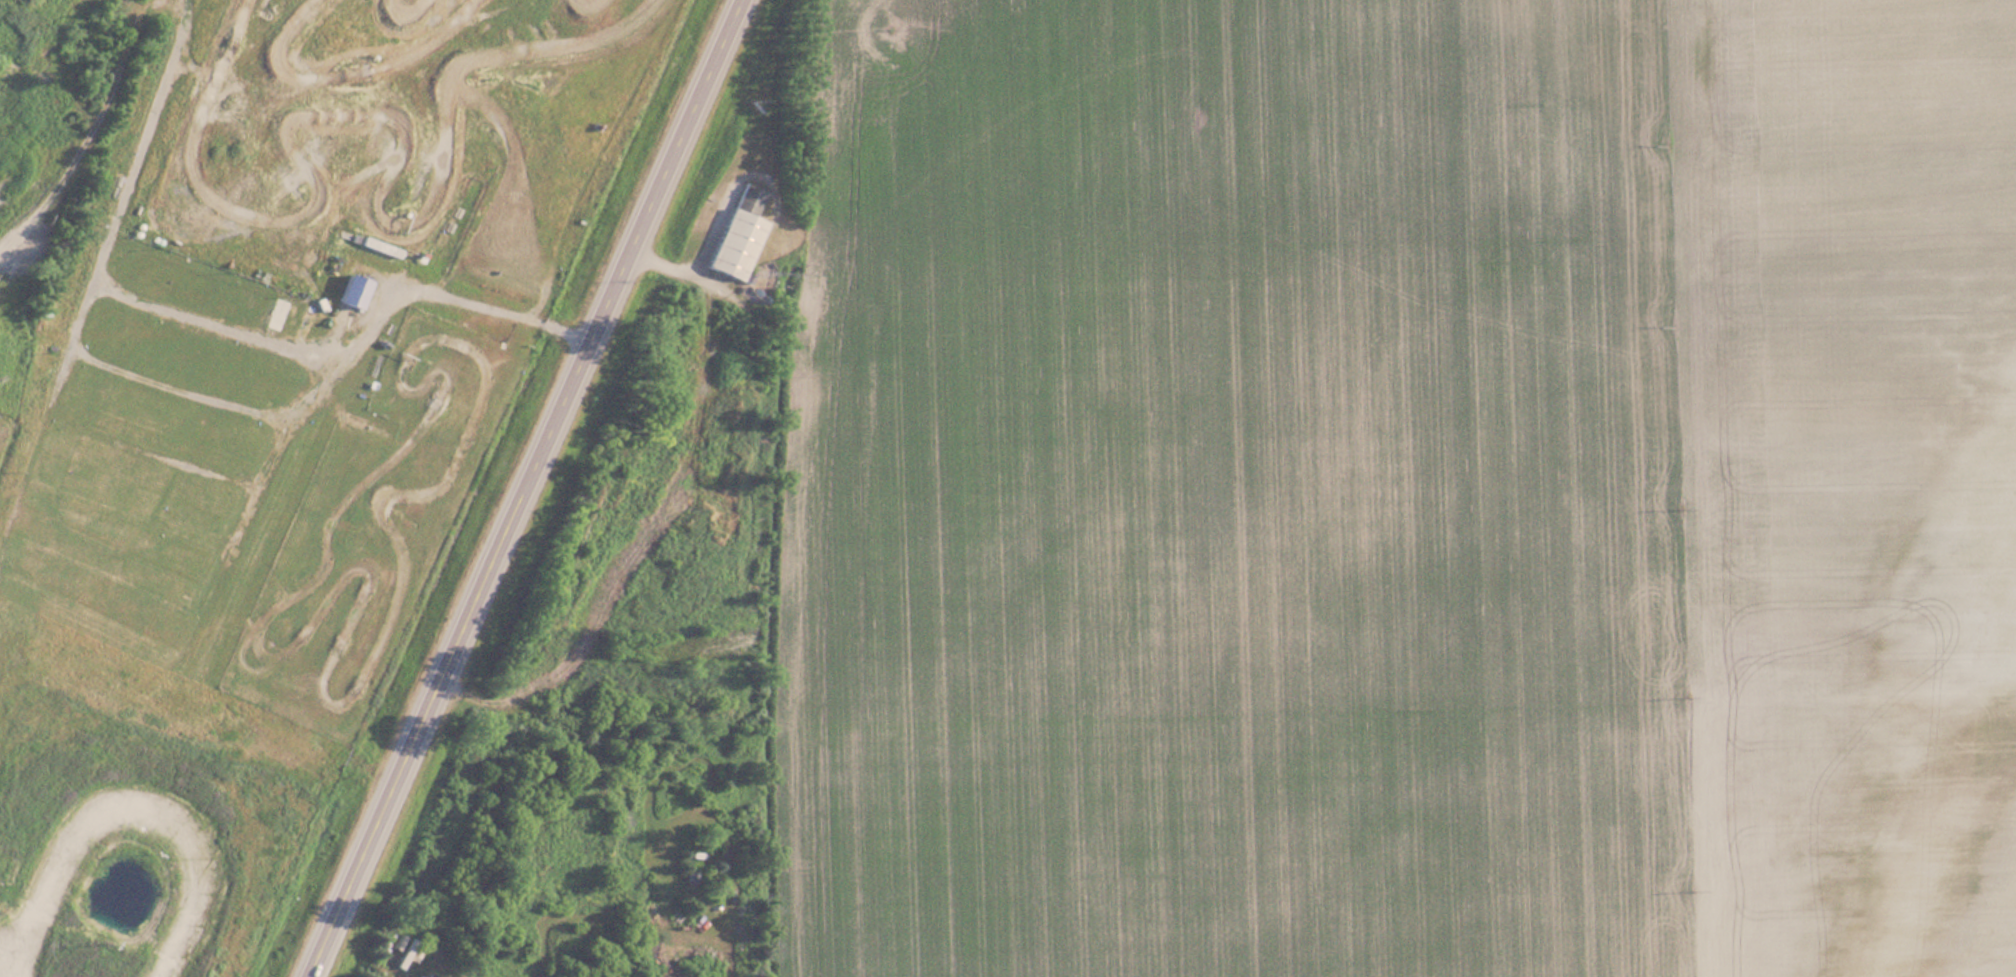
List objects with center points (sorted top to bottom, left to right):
building: (737, 234)
building: (380, 248)
road: (520, 488)
building: (692, 876)
building: (424, 976)

